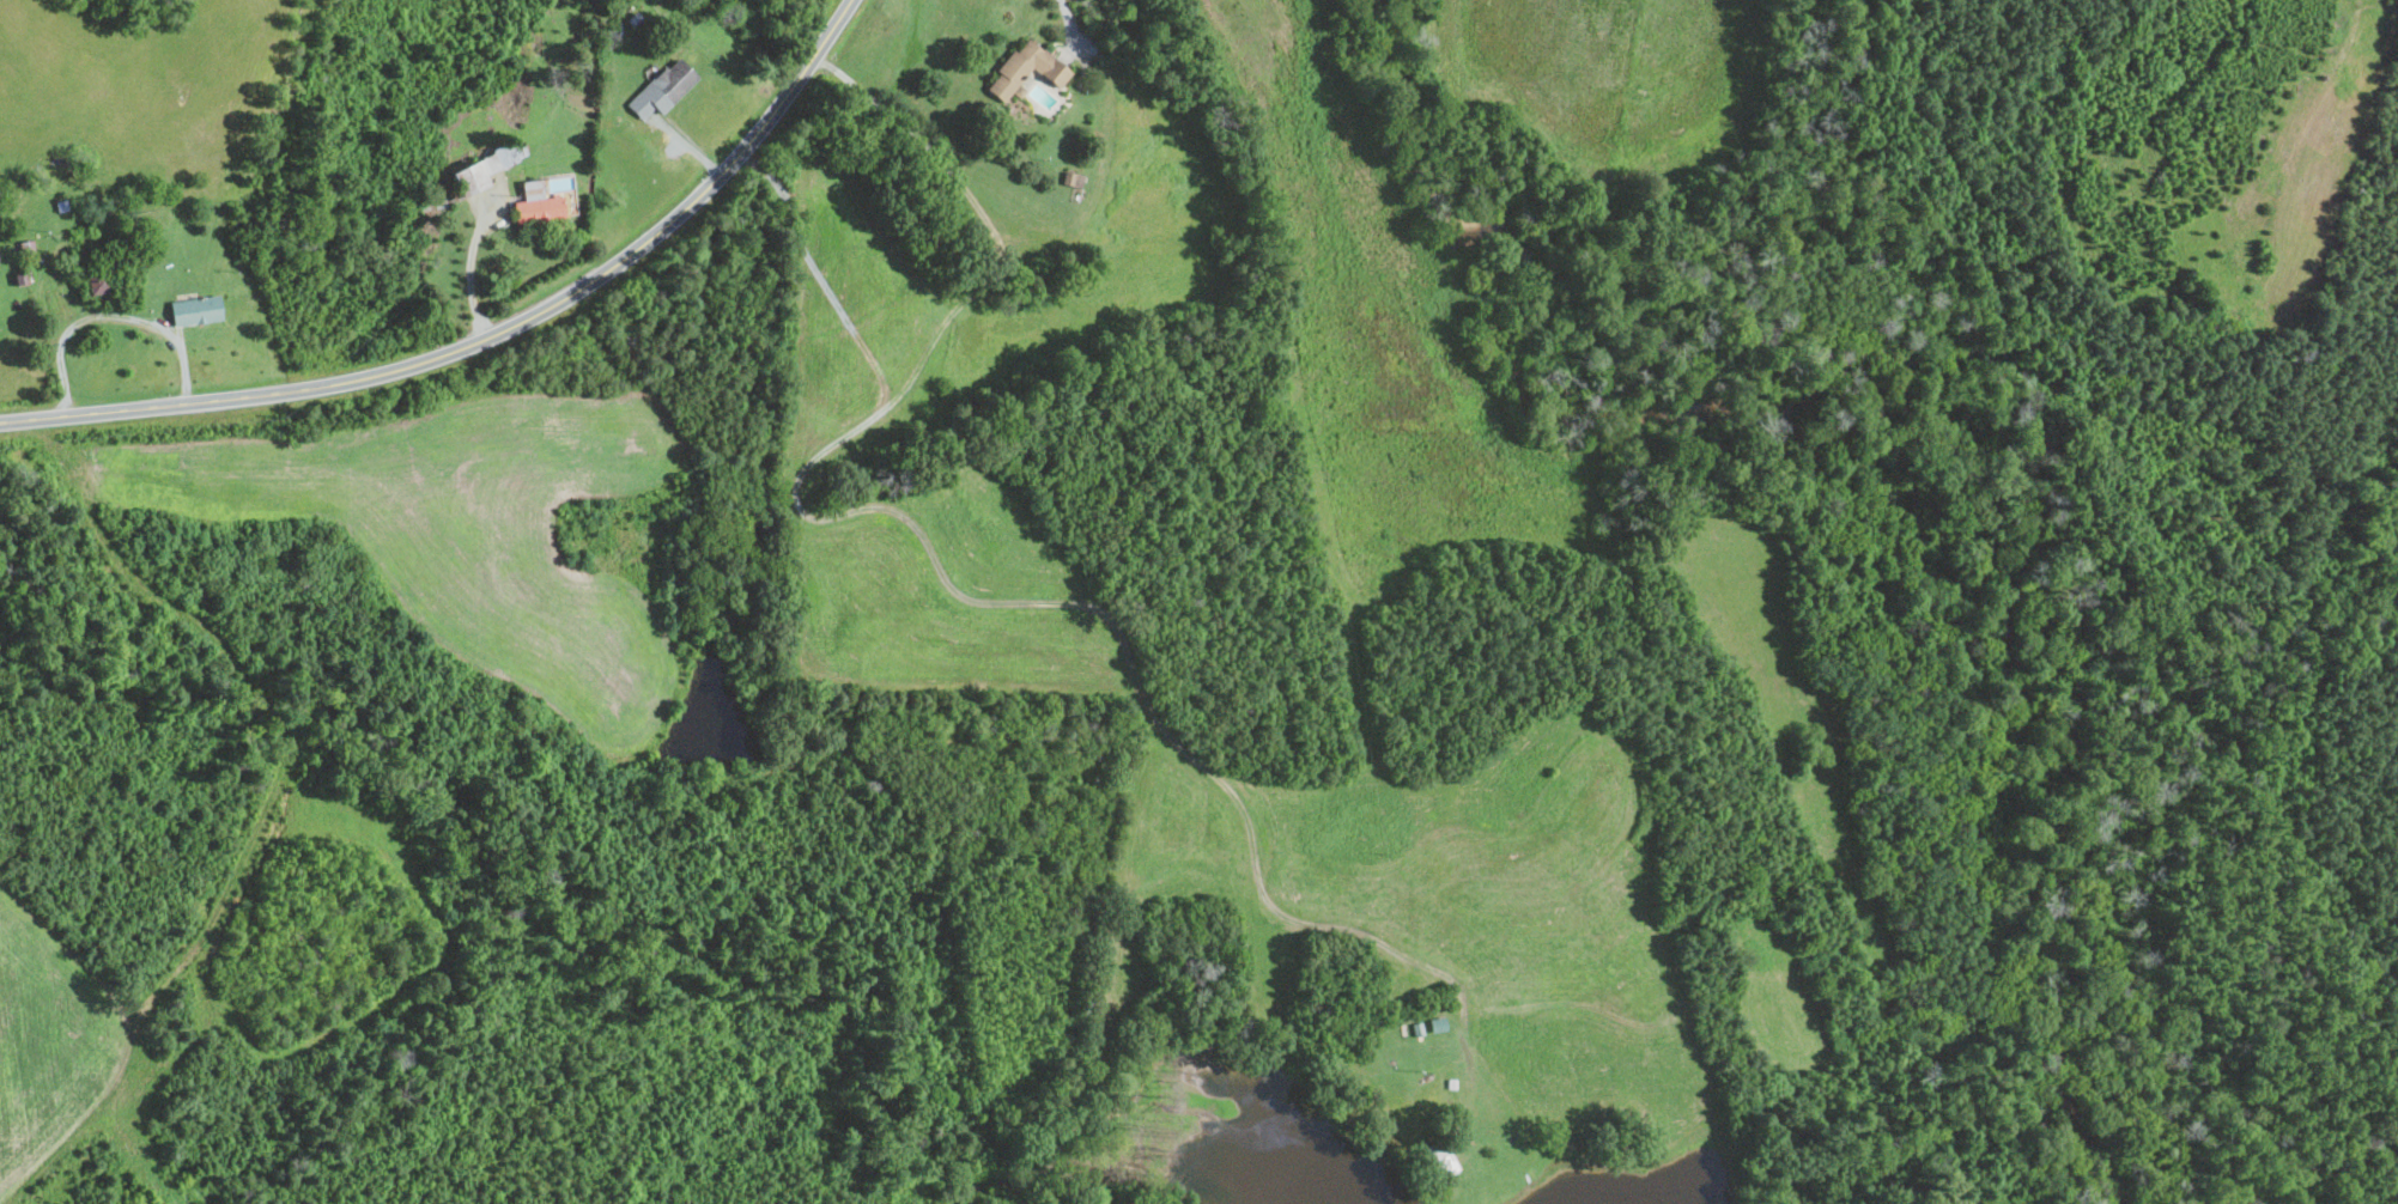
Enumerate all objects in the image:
road: (1066, 22)
building: (1024, 69)
building: (662, 87)
building: (482, 166)
building: (1070, 178)
building: (535, 203)
road: (473, 263)
building: (194, 310)
road: (111, 316)
road: (491, 336)
road: (971, 597)

